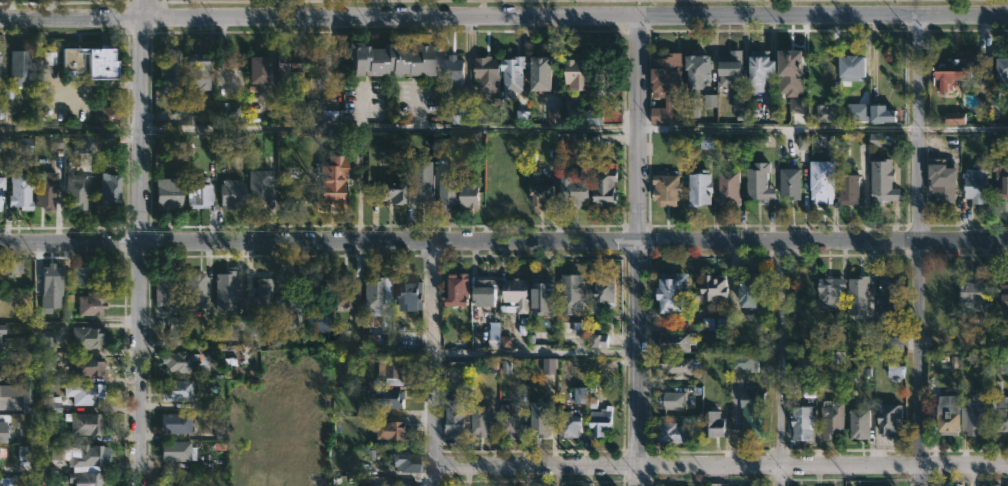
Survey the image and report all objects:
road: (162, 0)
road: (163, 0)
road: (323, 1)
park: (568, 2)
road: (481, 8)
road: (50, 9)
road: (503, 17)
road: (332, 55)
building: (398, 58)
building: (91, 62)
building: (0, 67)
building: (849, 67)
building: (729, 68)
building: (20, 69)
building: (260, 69)
building: (758, 69)
building: (457, 70)
building: (1001, 70)
building: (200, 72)
building: (290, 72)
building: (573, 72)
building: (791, 72)
building: (958, 72)
building: (489, 74)
building: (515, 74)
building: (169, 75)
building: (546, 75)
building: (664, 75)
building: (695, 79)
building: (317, 80)
building: (711, 100)
building: (740, 102)
building: (798, 105)
road: (360, 107)
road: (415, 108)
building: (858, 111)
building: (227, 112)
building: (825, 112)
building: (107, 113)
building: (878, 113)
building: (460, 115)
building: (554, 115)
building: (324, 117)
building: (522, 117)
building: (588, 117)
building: (955, 118)
road: (388, 127)
road: (778, 127)
road: (70, 128)
road: (963, 128)
building: (875, 139)
building: (363, 140)
building: (709, 141)
building: (802, 141)
building: (2, 142)
building: (55, 142)
building: (82, 143)
building: (1001, 177)
building: (941, 178)
building: (882, 179)
building: (334, 180)
building: (821, 180)
building: (758, 181)
building: (792, 182)
building: (979, 182)
building: (412, 183)
building: (448, 186)
building: (607, 186)
building: (699, 187)
building: (727, 187)
building: (577, 188)
building: (664, 188)
building: (847, 188)
building: (46, 189)
building: (110, 189)
building: (1, 190)
building: (76, 190)
building: (22, 191)
building: (199, 191)
building: (471, 191)
building: (170, 193)
building: (545, 194)
building: (235, 195)
road: (139, 242)
road: (504, 242)
road: (918, 250)
road: (637, 251)
building: (0, 266)
building: (11, 266)
building: (87, 274)
building: (322, 278)
building: (52, 279)
building: (460, 288)
building: (712, 288)
building: (195, 289)
building: (347, 290)
building: (488, 290)
building: (746, 290)
building: (827, 290)
building: (225, 291)
building: (671, 291)
building: (574, 292)
building: (409, 293)
building: (520, 293)
building: (605, 293)
building: (261, 295)
building: (975, 295)
building: (379, 296)
building: (543, 296)
building: (1005, 296)
building: (858, 297)
building: (888, 298)
building: (91, 304)
building: (168, 304)
building: (286, 311)
building: (321, 319)
building: (707, 323)
building: (1, 328)
building: (503, 334)
building: (89, 338)
building: (405, 338)
building: (379, 339)
building: (599, 341)
building: (679, 342)
building: (47, 343)
building: (889, 343)
building: (1, 351)
road: (536, 352)
building: (239, 354)
building: (838, 357)
building: (47, 362)
building: (182, 362)
building: (745, 362)
road: (434, 363)
building: (1001, 363)
building: (807, 364)
building: (550, 365)
road: (782, 365)
building: (87, 366)
building: (682, 366)
building: (394, 370)
building: (896, 371)
building: (176, 389)
building: (810, 390)
building: (85, 392)
building: (18, 393)
building: (581, 394)
building: (390, 397)
building: (672, 399)
building: (1000, 407)
building: (750, 413)
building: (947, 415)
building: (457, 417)
building: (542, 418)
building: (980, 418)
building: (887, 419)
building: (482, 420)
building: (512, 420)
building: (604, 420)
building: (831, 420)
building: (85, 422)
building: (177, 422)
building: (571, 423)
building: (714, 423)
building: (801, 423)
building: (858, 423)
building: (391, 429)
building: (2, 431)
building: (674, 432)
building: (176, 450)
building: (2, 452)
building: (25, 452)
building: (83, 455)
building: (406, 462)
road: (720, 466)
building: (85, 478)
building: (7, 480)
building: (397, 485)
building: (951, 485)

